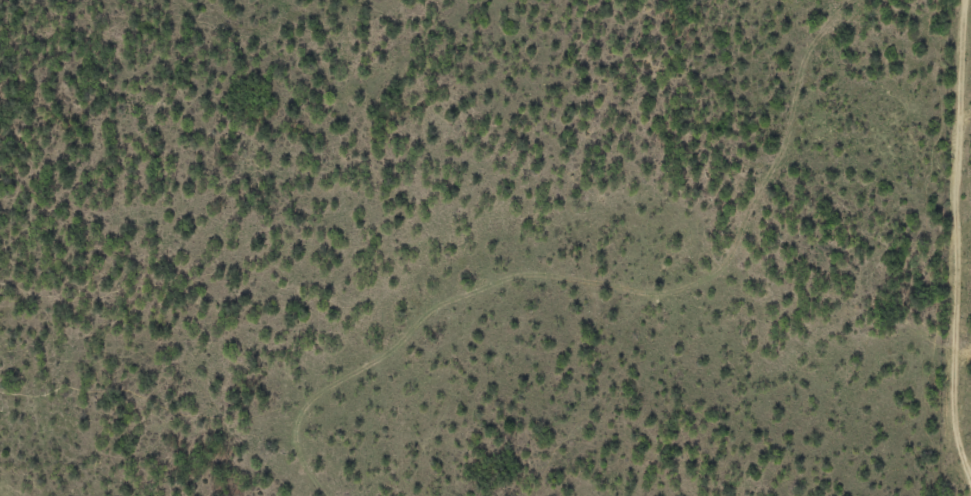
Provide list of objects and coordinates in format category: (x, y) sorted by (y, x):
road: (953, 248)

